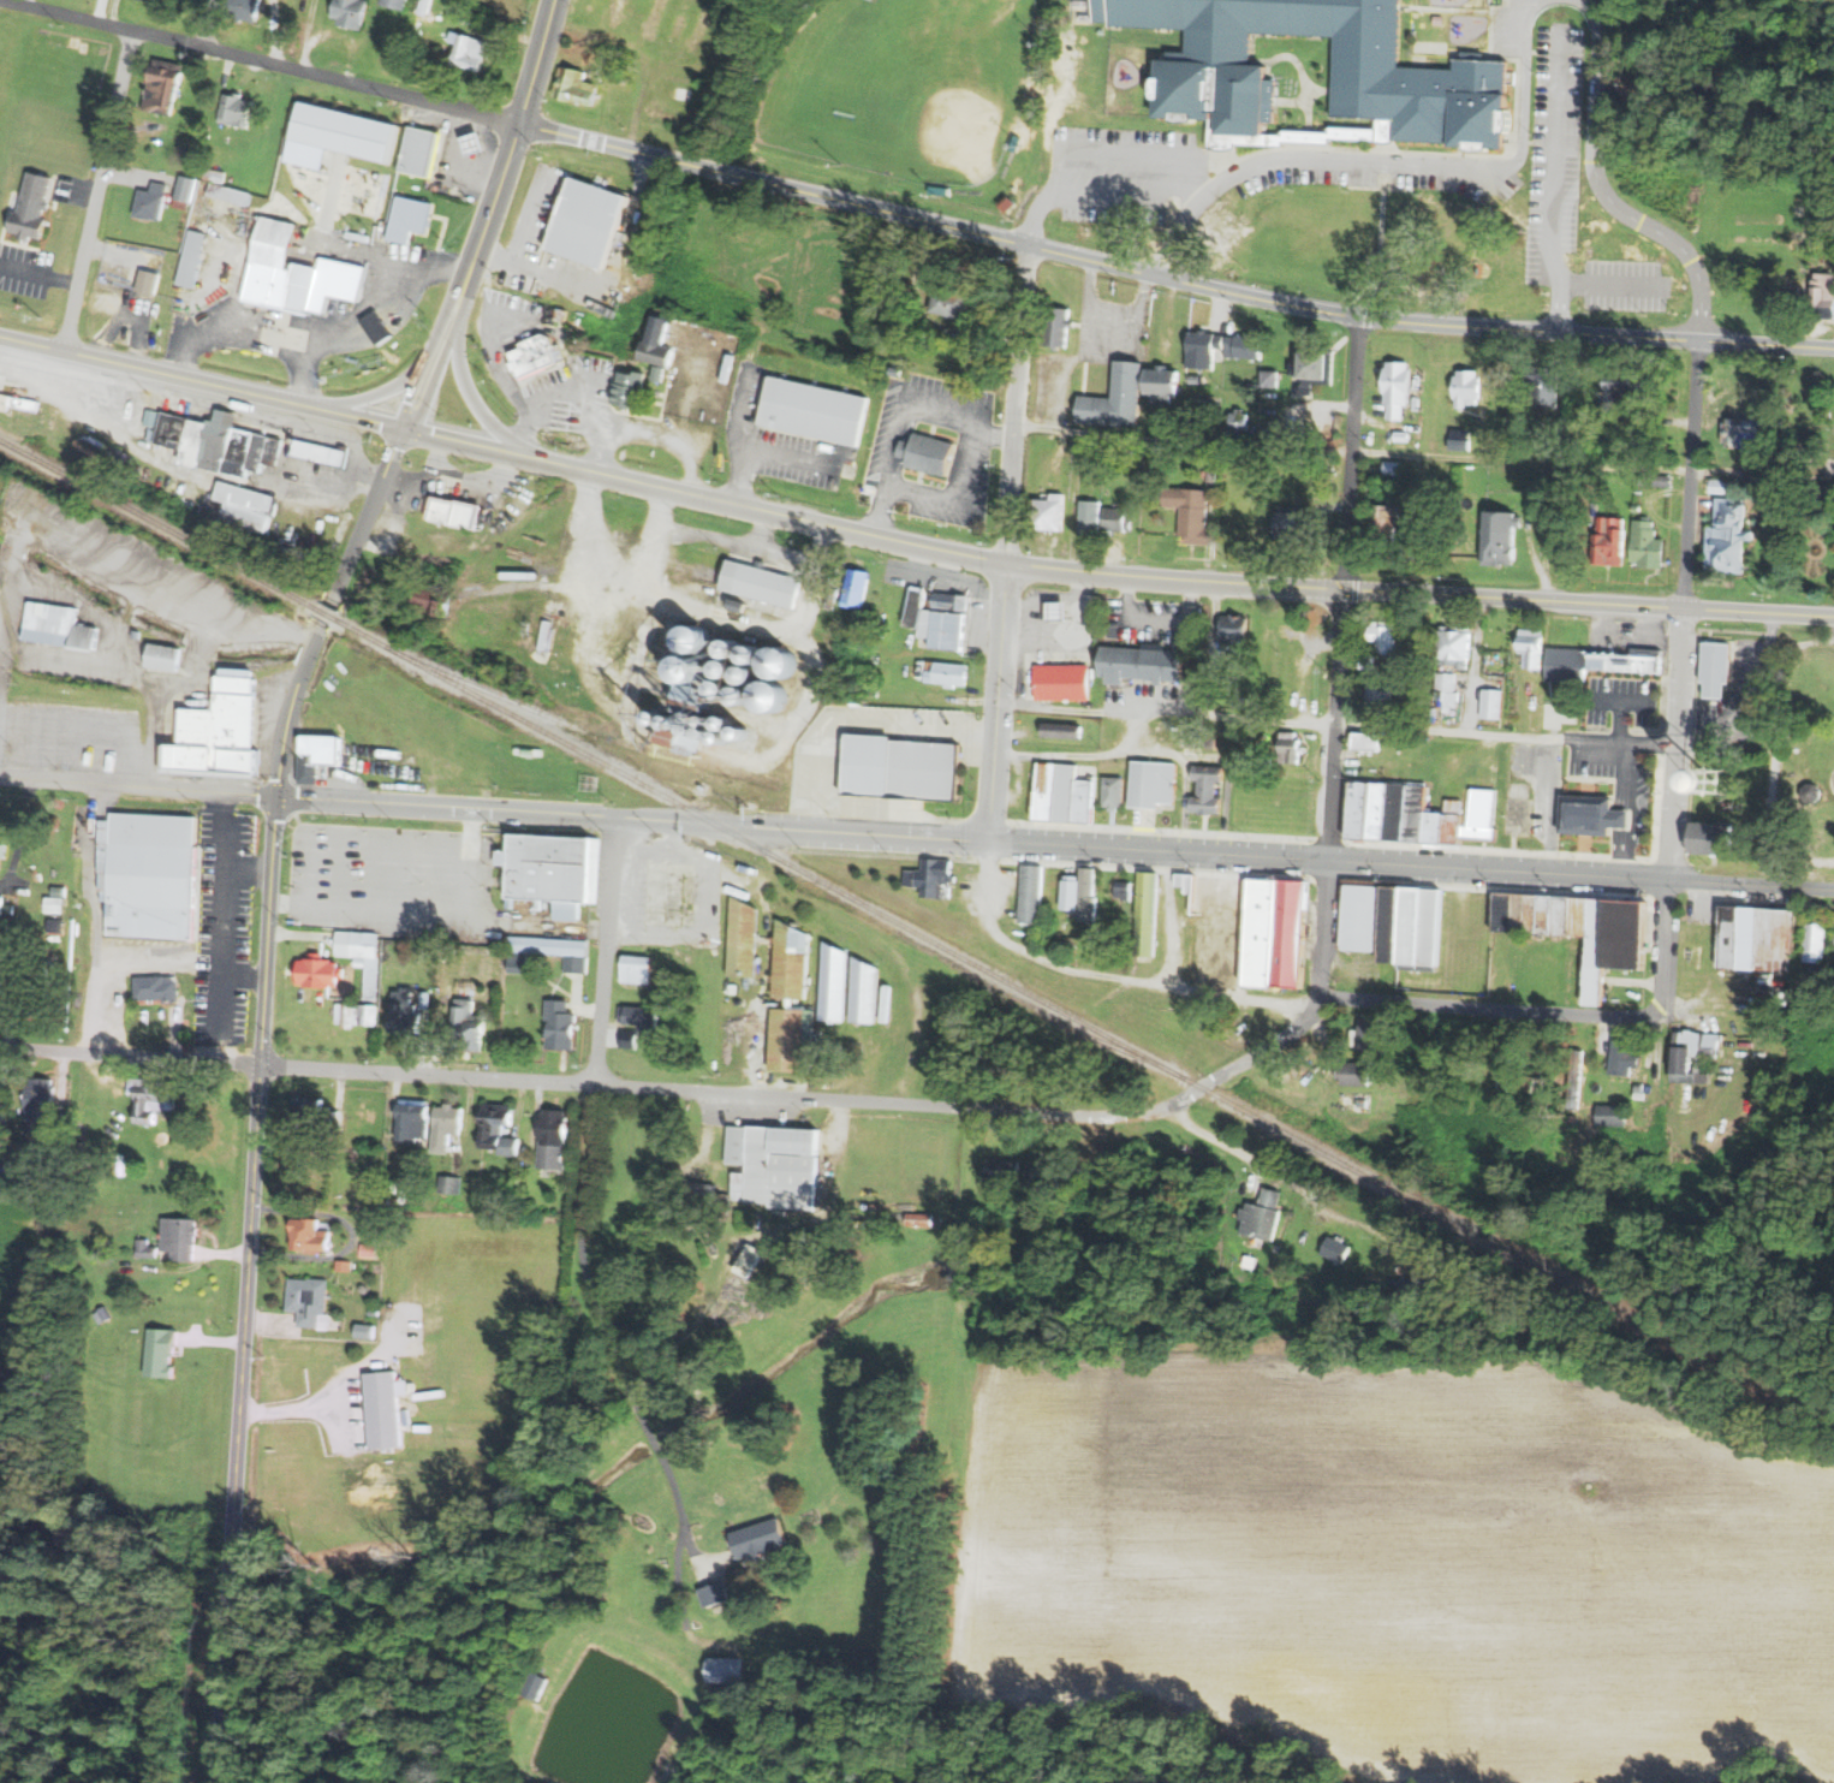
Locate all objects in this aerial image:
building: (149, 0)
building: (399, 4)
building: (428, 7)
building: (248, 10)
building: (352, 12)
building: (619, 12)
building: (656, 18)
road: (207, 23)
building: (679, 30)
building: (701, 30)
building: (725, 35)
road: (613, 40)
building: (474, 53)
building: (623, 71)
building: (167, 82)
park: (904, 83)
building: (578, 85)
building: (1421, 89)
building: (685, 94)
road: (639, 103)
building: (238, 111)
building: (672, 117)
building: (163, 126)
building: (347, 132)
building: (190, 139)
building: (1018, 143)
building: (478, 144)
road: (510, 149)
building: (422, 150)
road: (1103, 150)
gas station: (424, 151)
road: (1394, 162)
parking lot: (1126, 173)
parking lot: (1312, 173)
road: (124, 174)
parking lot: (1458, 179)
building: (189, 189)
building: (942, 189)
road: (81, 190)
road: (100, 190)
road: (1603, 191)
road: (136, 192)
building: (232, 194)
road: (56, 197)
parking lot: (1573, 197)
building: (155, 202)
building: (1010, 203)
building: (183, 204)
building: (34, 208)
road: (915, 215)
building: (411, 220)
building: (593, 221)
building: (1823, 243)
road: (528, 245)
building: (195, 260)
road: (568, 269)
road: (40, 272)
building: (296, 273)
building: (151, 281)
building: (1822, 291)
building: (952, 302)
road: (446, 316)
parking lot: (1113, 321)
building: (1054, 325)
building: (380, 328)
building: (661, 343)
building: (1241, 345)
building: (1199, 346)
road: (496, 351)
building: (537, 355)
building: (1311, 361)
road: (35, 368)
road: (163, 372)
building: (661, 375)
building: (1268, 376)
road: (421, 382)
building: (1161, 384)
road: (391, 386)
road: (464, 386)
building: (1626, 386)
road: (570, 387)
building: (1400, 388)
building: (1465, 388)
building: (1541, 388)
building: (633, 390)
building: (1113, 397)
building: (20, 403)
road: (1016, 403)
building: (815, 411)
building: (1192, 415)
building: (153, 418)
road: (365, 418)
building: (1237, 421)
traffic signals: (404, 427)
building: (1738, 432)
building: (1400, 435)
building: (1458, 435)
road: (693, 438)
road: (463, 441)
building: (1073, 442)
road: (1181, 442)
building: (220, 444)
road: (745, 447)
building: (1552, 448)
building: (1613, 448)
building: (90, 450)
building: (322, 452)
building: (930, 454)
building: (1287, 459)
road: (1519, 460)
building: (1391, 468)
road: (1762, 473)
road: (740, 475)
building: (1209, 475)
building: (1452, 475)
building: (1654, 480)
building: (1720, 485)
building: (1580, 493)
building: (1537, 498)
building: (1634, 506)
building: (248, 509)
road: (368, 510)
road: (763, 510)
building: (1047, 511)
building: (460, 513)
building: (1189, 513)
building: (1085, 516)
building: (1114, 518)
railway: (156, 523)
building: (1296, 523)
building: (1382, 523)
building: (1496, 534)
building: (1423, 535)
building: (1726, 535)
building: (1607, 541)
building: (1644, 542)
road: (17, 549)
building: (298, 553)
road: (163, 571)
road: (6, 577)
building: (763, 583)
building: (858, 589)
road: (1418, 594)
building: (435, 601)
building: (953, 604)
building: (743, 607)
building: (917, 608)
road: (324, 612)
railway: (327, 614)
road: (213, 617)
building: (59, 624)
building: (1233, 626)
building: (951, 631)
building: (1381, 634)
building: (547, 636)
building: (1454, 643)
building: (708, 646)
silo: (708, 646)
building: (1529, 646)
road: (200, 650)
building: (740, 654)
silo: (740, 654)
building: (163, 658)
building: (762, 660)
silo: (762, 660)
building: (1626, 660)
building: (1365, 661)
building: (1139, 664)
building: (787, 665)
silo: (787, 665)
building: (1565, 665)
building: (1716, 668)
building: (949, 673)
building: (734, 674)
silo: (734, 674)
building: (697, 676)
silo: (697, 676)
building: (756, 679)
silo: (756, 679)
building: (1060, 680)
building: (1445, 687)
road: (1338, 689)
building: (726, 694)
silo: (726, 694)
building: (1377, 694)
building: (750, 700)
silo: (750, 700)
building: (780, 700)
silo: (780, 700)
road: (995, 701)
building: (1238, 701)
parking lot: (1625, 701)
building: (1490, 702)
road: (1166, 715)
road: (1678, 717)
road: (159, 719)
building: (697, 720)
silo: (697, 720)
building: (668, 723)
silo: (668, 723)
building: (711, 724)
silo: (711, 724)
railway: (580, 727)
building: (739, 729)
silo: (739, 729)
building: (686, 730)
silo: (686, 730)
building: (1061, 730)
building: (220, 732)
road: (691, 735)
road: (1506, 735)
building: (708, 736)
silo: (708, 736)
building: (1196, 736)
building: (755, 739)
silo: (755, 739)
building: (1364, 741)
building: (734, 743)
silo: (734, 743)
building: (1287, 748)
building: (320, 755)
park: (1802, 762)
building: (903, 771)
building: (1149, 783)
water tower: (1709, 783)
road: (138, 785)
parking lot: (1619, 788)
water tower: (1715, 788)
building: (1059, 791)
building: (1110, 791)
building: (1207, 791)
building: (1808, 792)
traffic signals: (276, 795)
building: (1726, 806)
building: (1417, 814)
building: (1588, 815)
road: (631, 819)
building: (1710, 837)
building: (0, 852)
road: (1410, 864)
building: (553, 868)
building: (154, 873)
building: (933, 879)
parking lot: (392, 880)
building: (1121, 888)
building: (60, 892)
building: (1030, 893)
building: (1082, 896)
building: (56, 904)
building: (6, 905)
building: (1143, 911)
road: (705, 913)
road: (1174, 917)
building: (1392, 921)
building: (1254, 923)
building: (56, 925)
parking lot: (224, 925)
building: (1576, 928)
building: (746, 938)
building: (1755, 938)
building: (1814, 941)
building: (550, 945)
road: (606, 950)
building: (365, 955)
building: (362, 959)
building: (794, 961)
building: (520, 962)
building: (578, 963)
building: (639, 968)
building: (321, 971)
railway: (975, 975)
road: (1100, 976)
building: (661, 977)
building: (836, 982)
building: (1, 986)
building: (157, 987)
building: (736, 988)
building: (868, 991)
building: (427, 999)
building: (742, 1002)
building: (1824, 1006)
building: (406, 1010)
building: (346, 1014)
building: (370, 1014)
building: (644, 1015)
building: (561, 1023)
building: (468, 1024)
railway: (1084, 1024)
building: (1365, 1034)
building: (794, 1039)
building: (1622, 1054)
building: (1691, 1054)
building: (1502, 1062)
building: (1352, 1072)
building: (1572, 1077)
building: (1637, 1092)
building: (154, 1096)
building: (1360, 1098)
building: (43, 1099)
road: (887, 1099)
road: (256, 1104)
building: (1494, 1107)
building: (316, 1113)
building: (1610, 1115)
building: (415, 1118)
building: (448, 1127)
building: (501, 1127)
building: (555, 1139)
building: (776, 1165)
building: (31, 1170)
building: (43, 1171)
building: (1005, 1171)
building: (1043, 1175)
road: (1291, 1182)
building: (452, 1184)
building: (698, 1195)
building: (394, 1199)
building: (1266, 1216)
building: (922, 1219)
building: (311, 1236)
building: (181, 1237)
building: (148, 1248)
building: (1339, 1248)
building: (370, 1250)
building: (752, 1259)
building: (345, 1265)
crop: (22, 1274)
building: (1416, 1286)
building: (309, 1298)
building: (375, 1312)
road: (600, 1313)
building: (105, 1314)
building: (368, 1331)
building: (163, 1351)
building: (388, 1409)
building: (762, 1539)
crop: (1405, 1558)
building: (719, 1594)
building: (727, 1670)
road: (224, 1682)
building: (536, 1684)

